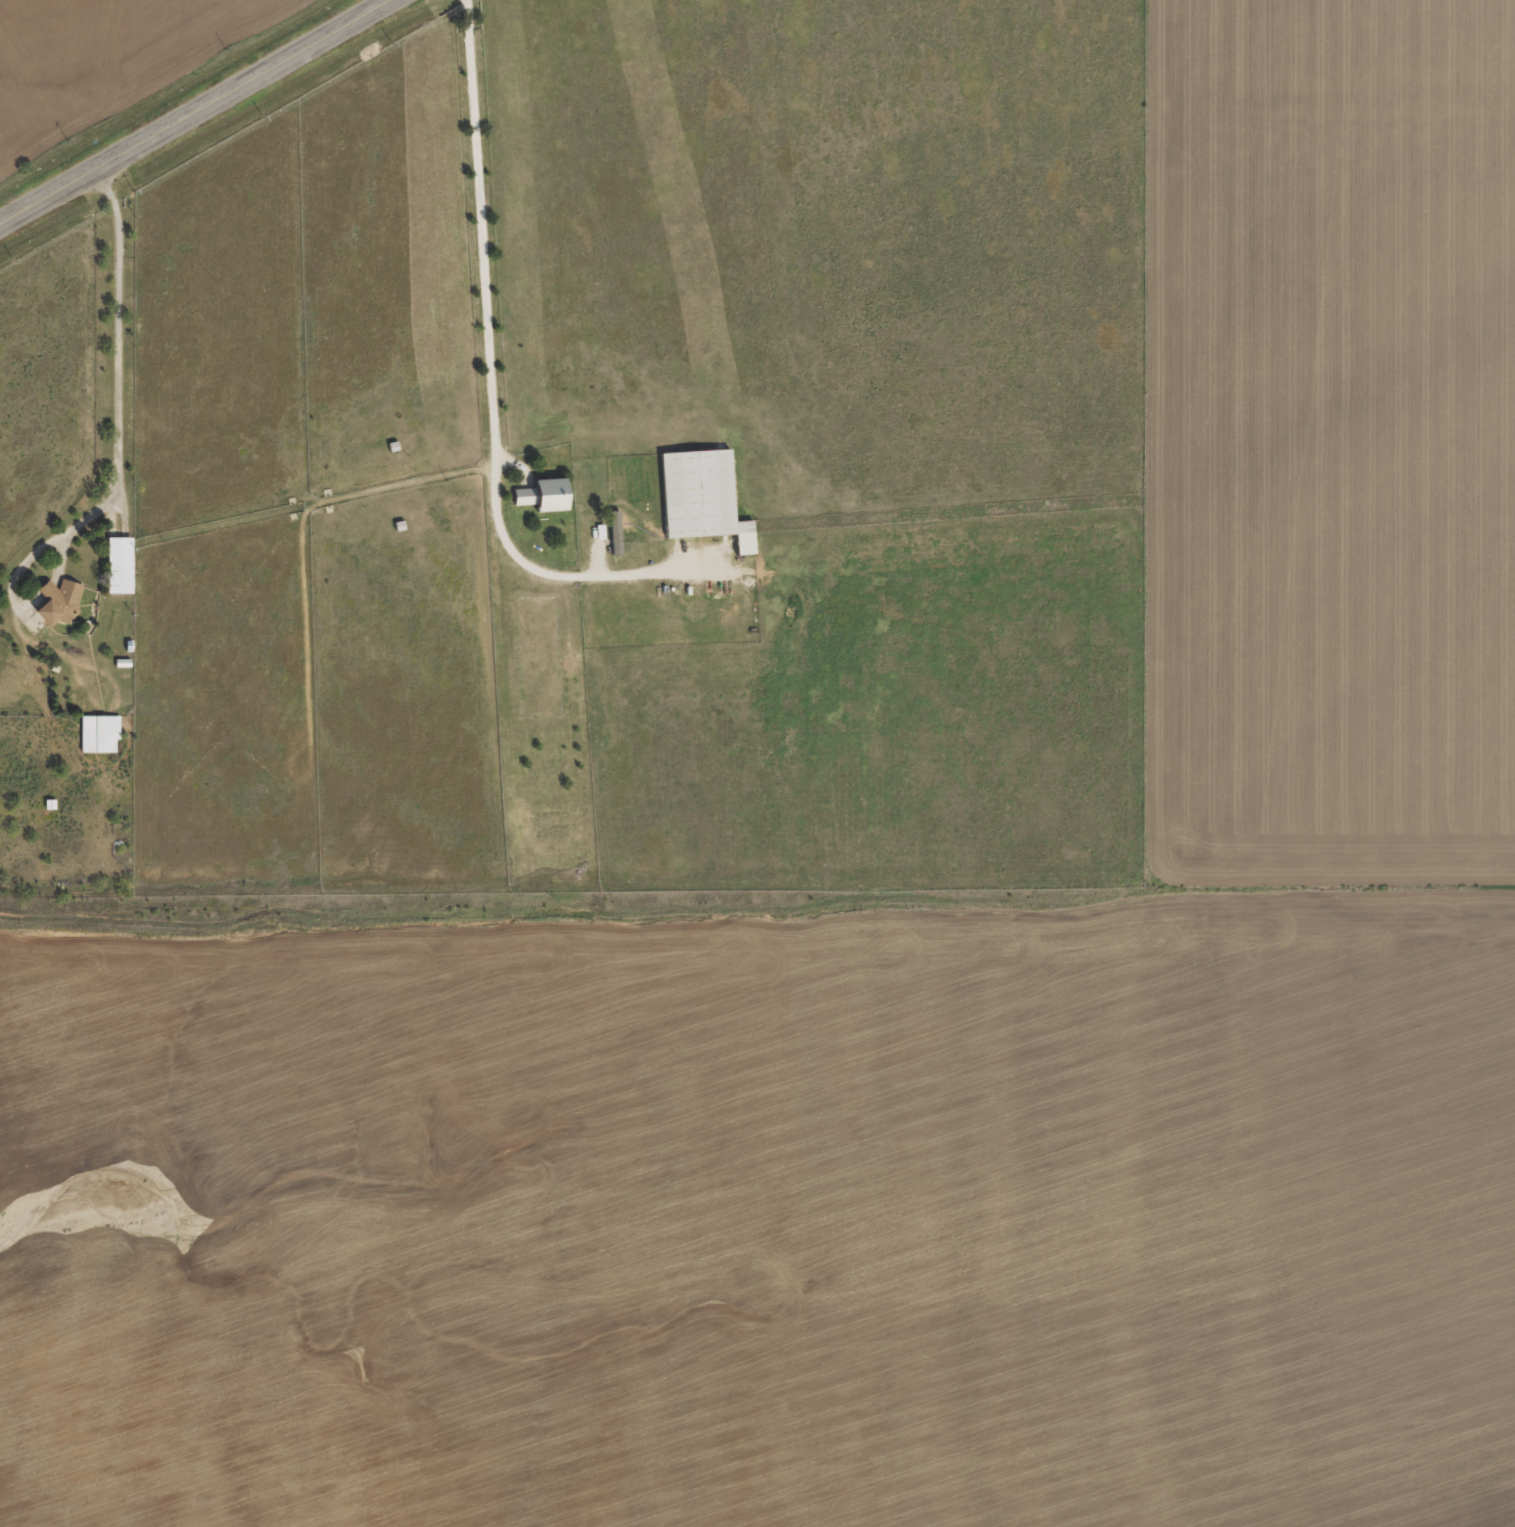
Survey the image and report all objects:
road: (200, 118)
road: (490, 384)
road: (117, 418)
building: (544, 502)
building: (702, 505)
building: (614, 540)
building: (119, 573)
building: (58, 609)
building: (98, 741)

